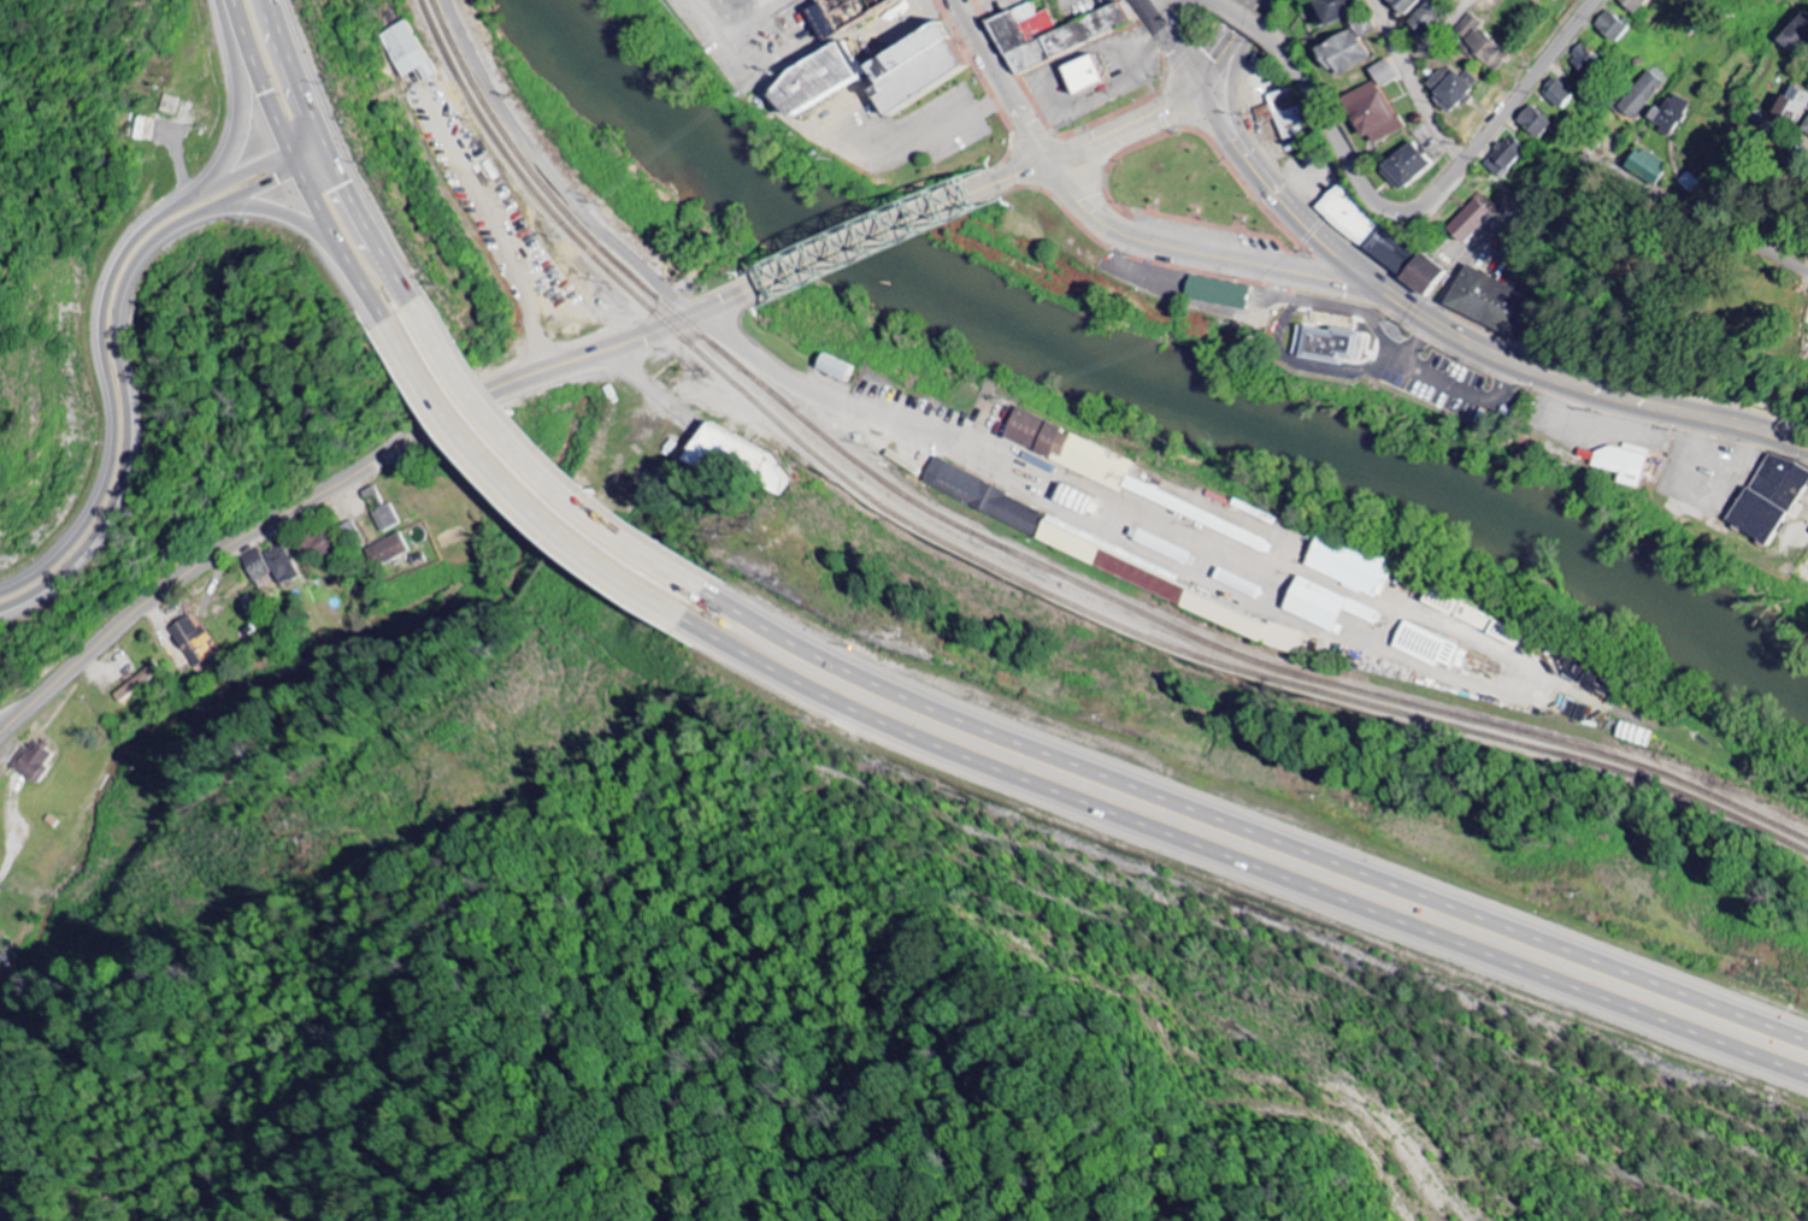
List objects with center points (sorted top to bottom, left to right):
building: (1553, 0)
building: (984, 4)
building: (1633, 5)
building: (1403, 6)
road: (1220, 7)
building: (1335, 10)
parking lot: (741, 13)
building: (1426, 20)
building: (1610, 26)
building: (1797, 36)
road: (1170, 39)
road: (1435, 40)
road: (1221, 43)
building: (1480, 45)
building: (1083, 46)
building: (1008, 53)
building: (1342, 53)
building: (407, 54)
building: (1584, 59)
building: (1026, 75)
building: (1079, 75)
building: (1384, 75)
road: (995, 84)
road: (1529, 87)
building: (1451, 88)
building: (912, 90)
road: (1404, 90)
building: (1082, 93)
building: (1559, 94)
building: (1639, 96)
building: (1794, 102)
building: (811, 107)
road: (236, 111)
building: (1372, 113)
building: (1668, 114)
building: (1286, 117)
road: (512, 120)
building: (1533, 123)
building: (1806, 129)
road: (1790, 132)
road: (1124, 134)
parking lot: (897, 141)
road: (814, 152)
road: (332, 157)
building: (1506, 157)
road: (1598, 158)
building: (1647, 164)
building: (1407, 165)
road: (300, 166)
road: (1353, 171)
road: (1026, 176)
park: (1191, 191)
road: (1284, 203)
building: (1343, 218)
building: (1472, 224)
road: (307, 228)
parking lot: (1209, 237)
road: (879, 238)
road: (1209, 254)
building: (1383, 258)
road: (649, 273)
road: (1413, 306)
building: (1492, 313)
road: (101, 326)
building: (1326, 353)
road: (119, 354)
building: (832, 368)
river: (1149, 387)
road: (1615, 396)
road: (1733, 411)
building: (711, 447)
road: (555, 454)
building: (1623, 464)
building: (1103, 470)
road: (353, 476)
road: (534, 477)
building: (982, 497)
building: (1769, 499)
building: (385, 508)
building: (357, 531)
building: (320, 541)
building: (394, 548)
railway: (1021, 550)
building: (424, 558)
building: (259, 564)
building: (285, 565)
building: (1348, 567)
railway: (1005, 574)
building: (1324, 607)
building: (196, 639)
building: (1426, 648)
building: (143, 682)
building: (36, 761)
road: (1253, 826)
road: (1242, 865)

